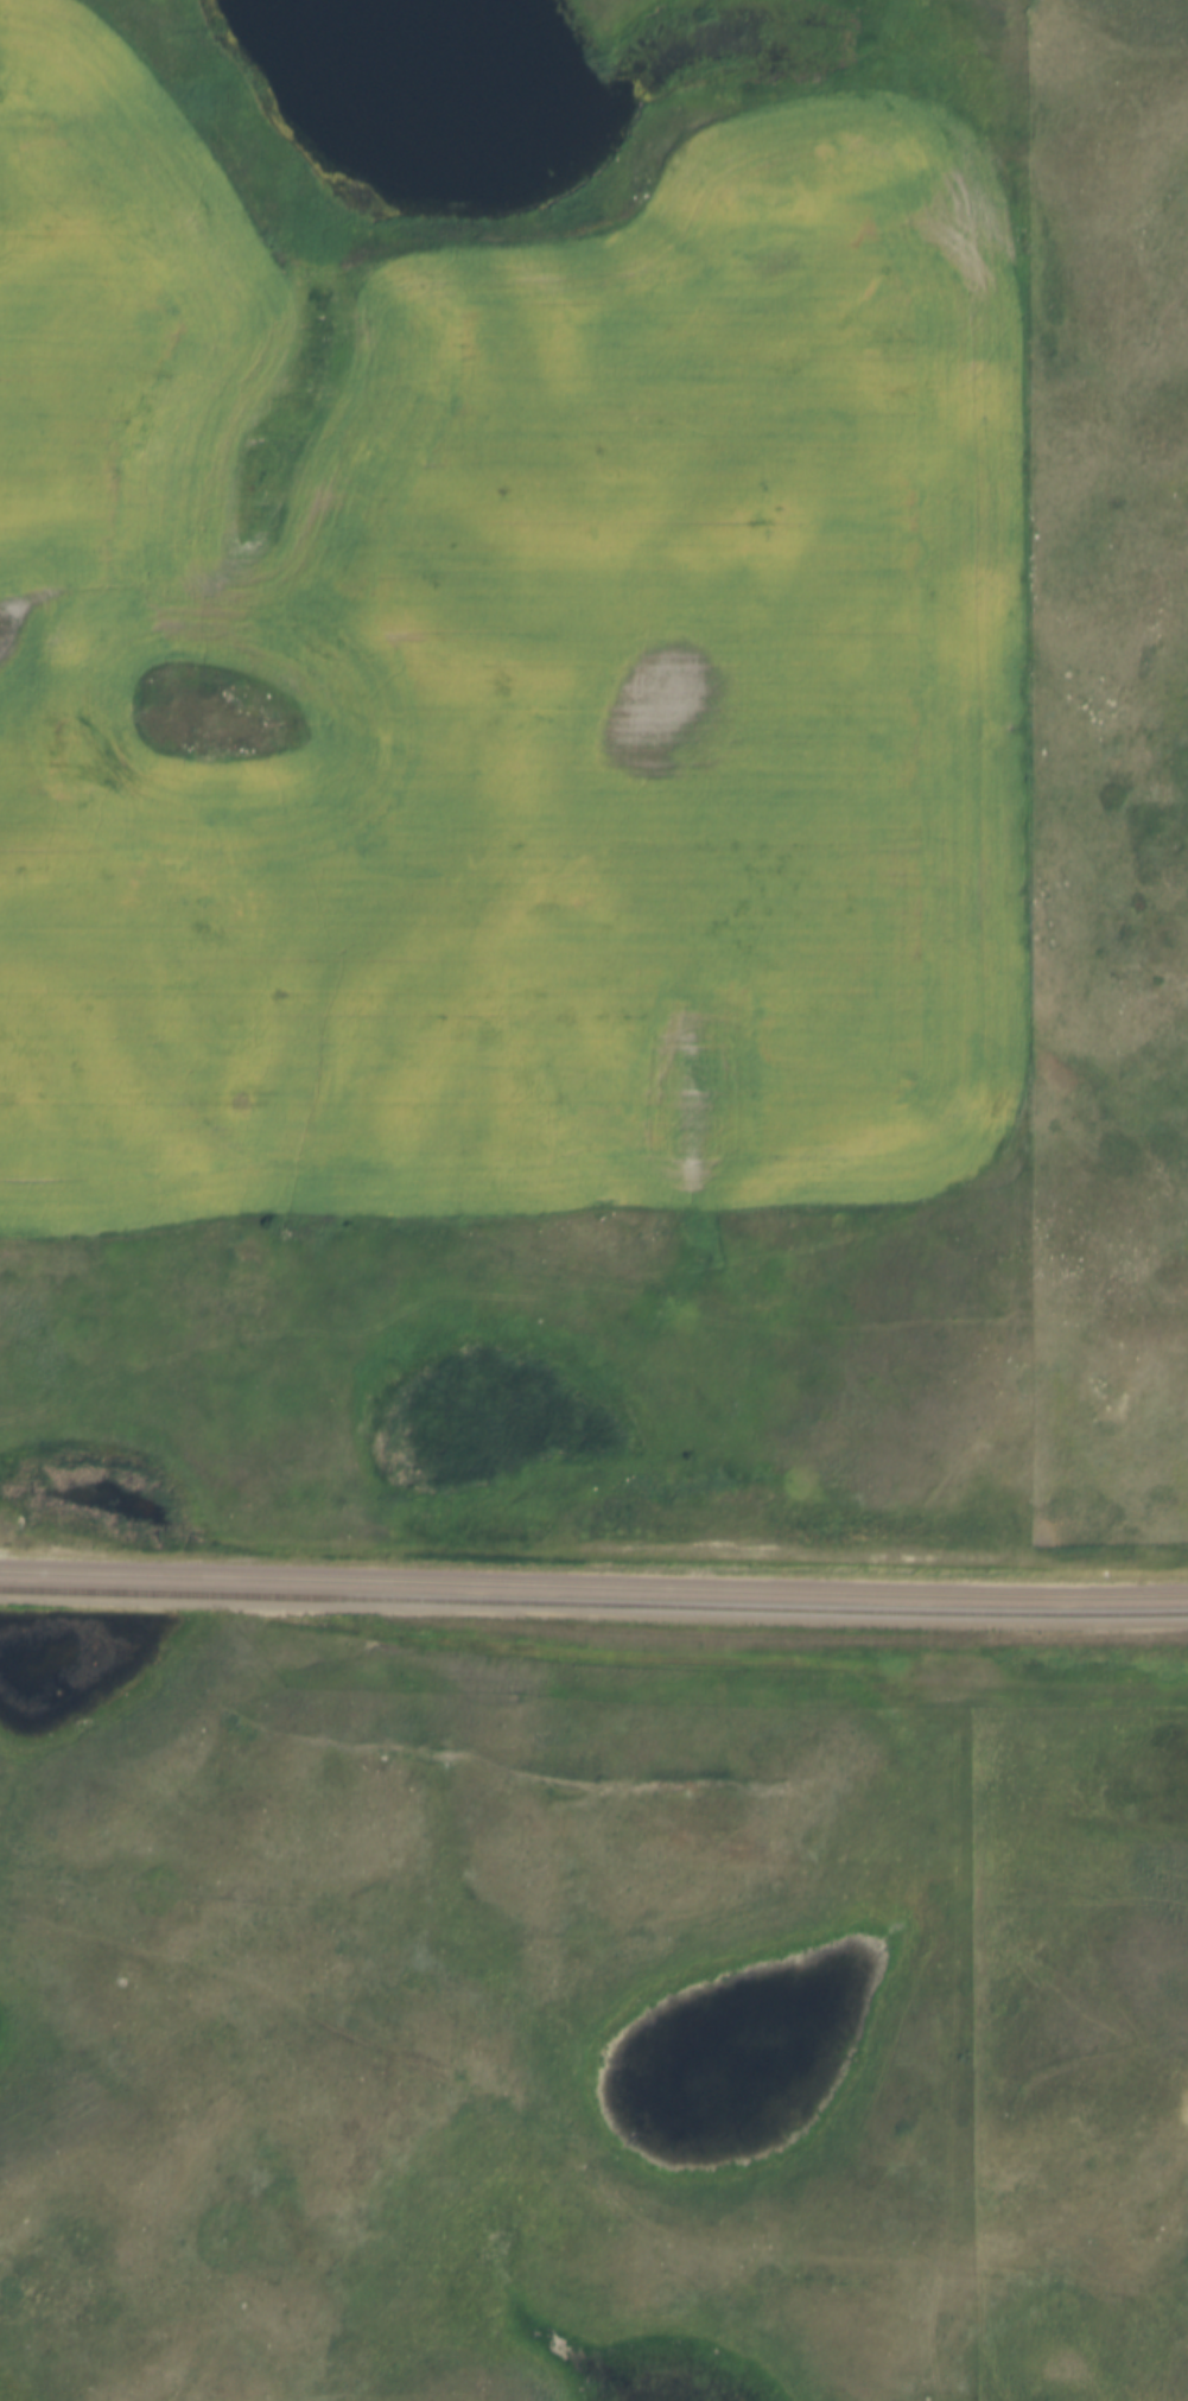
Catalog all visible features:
road: (964, 95)
railway: (593, 1579)
railway: (593, 1605)

